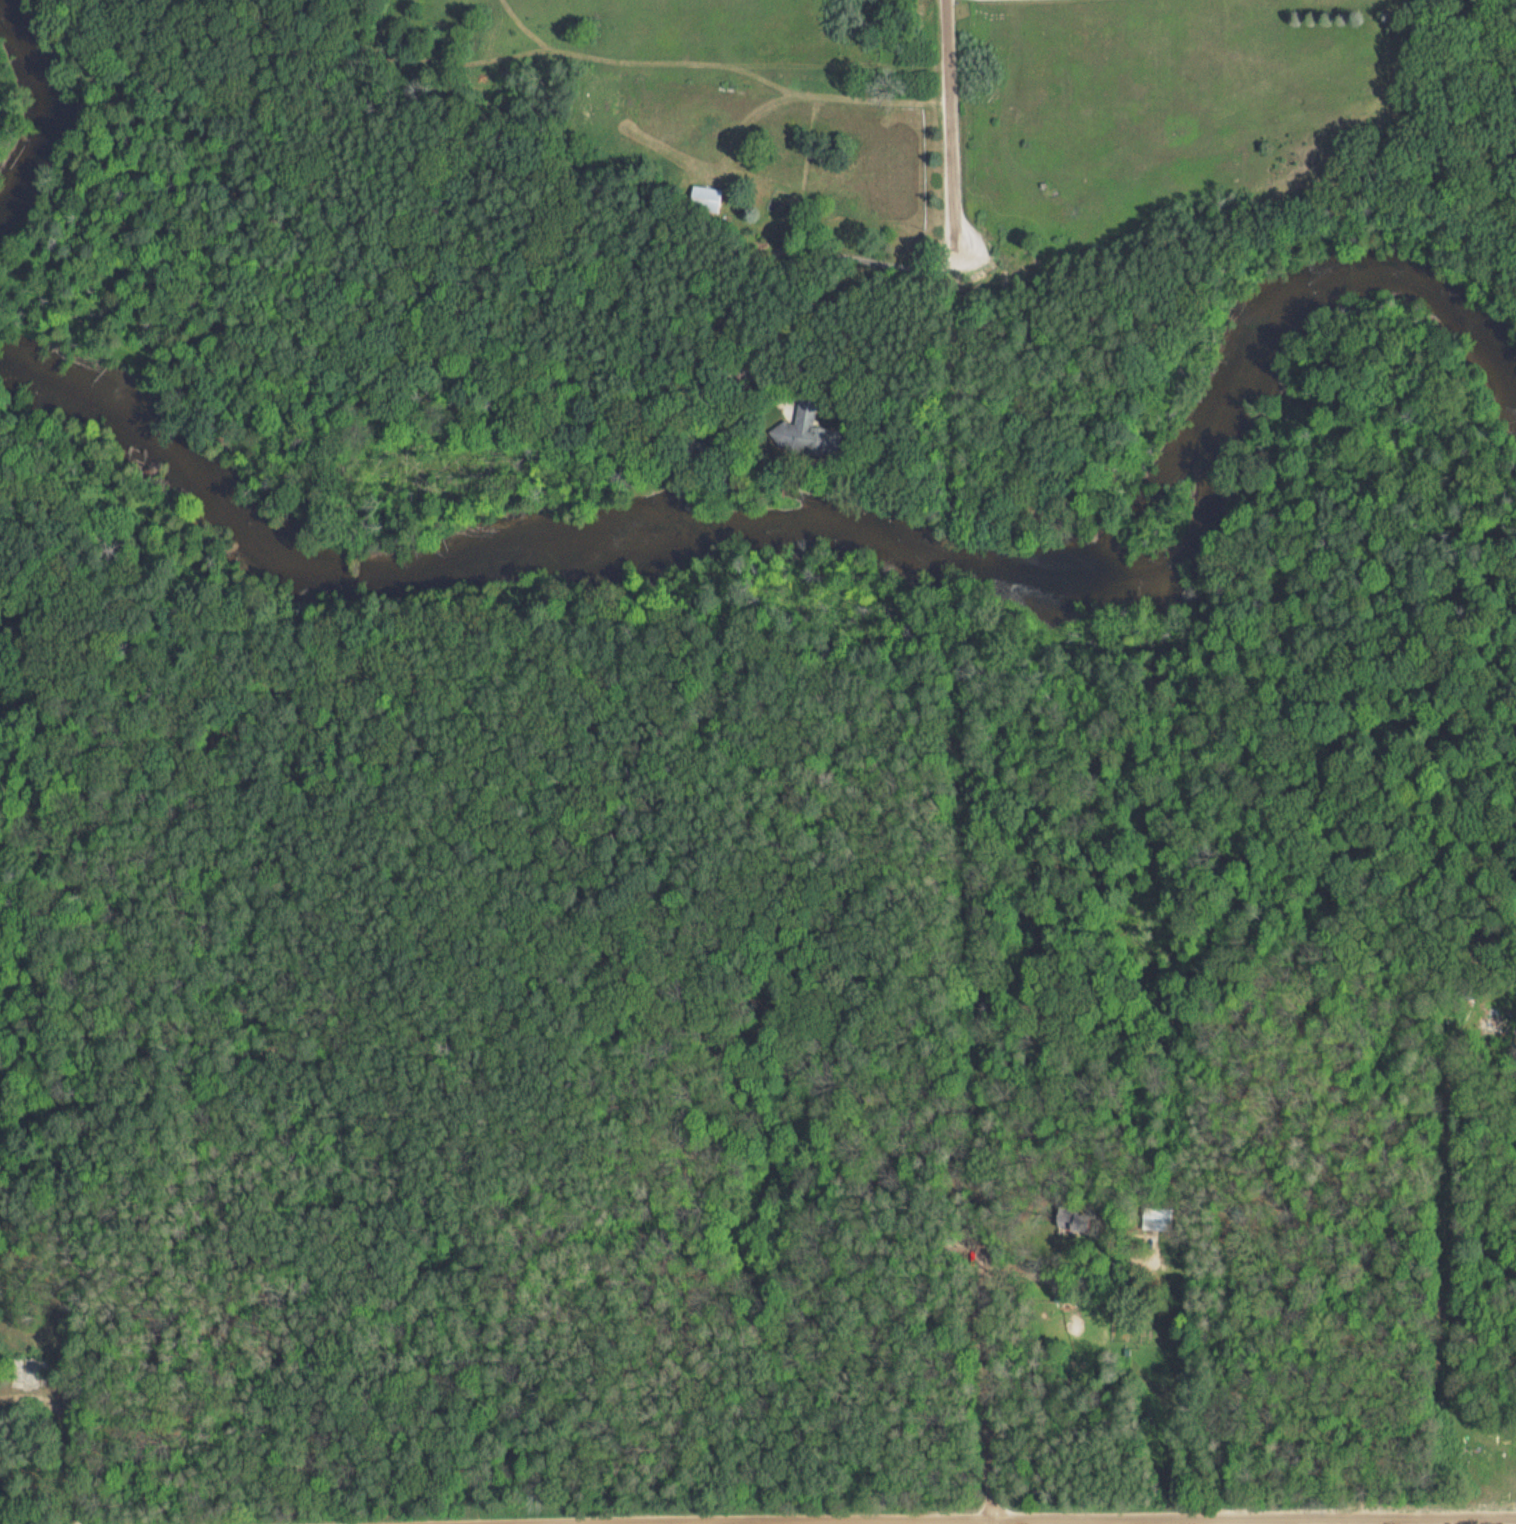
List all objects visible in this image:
road: (80, 24)
river: (40, 101)
road: (949, 135)
building: (705, 198)
road: (841, 292)
building: (798, 433)
river: (821, 530)
road: (969, 1064)
building: (1155, 1218)
building: (27, 1370)
road: (75, 1420)
road: (950, 1519)
road: (1229, 1520)
road: (1436, 1520)
road: (646, 1521)
road: (987, 1521)
road: (543, 1522)

